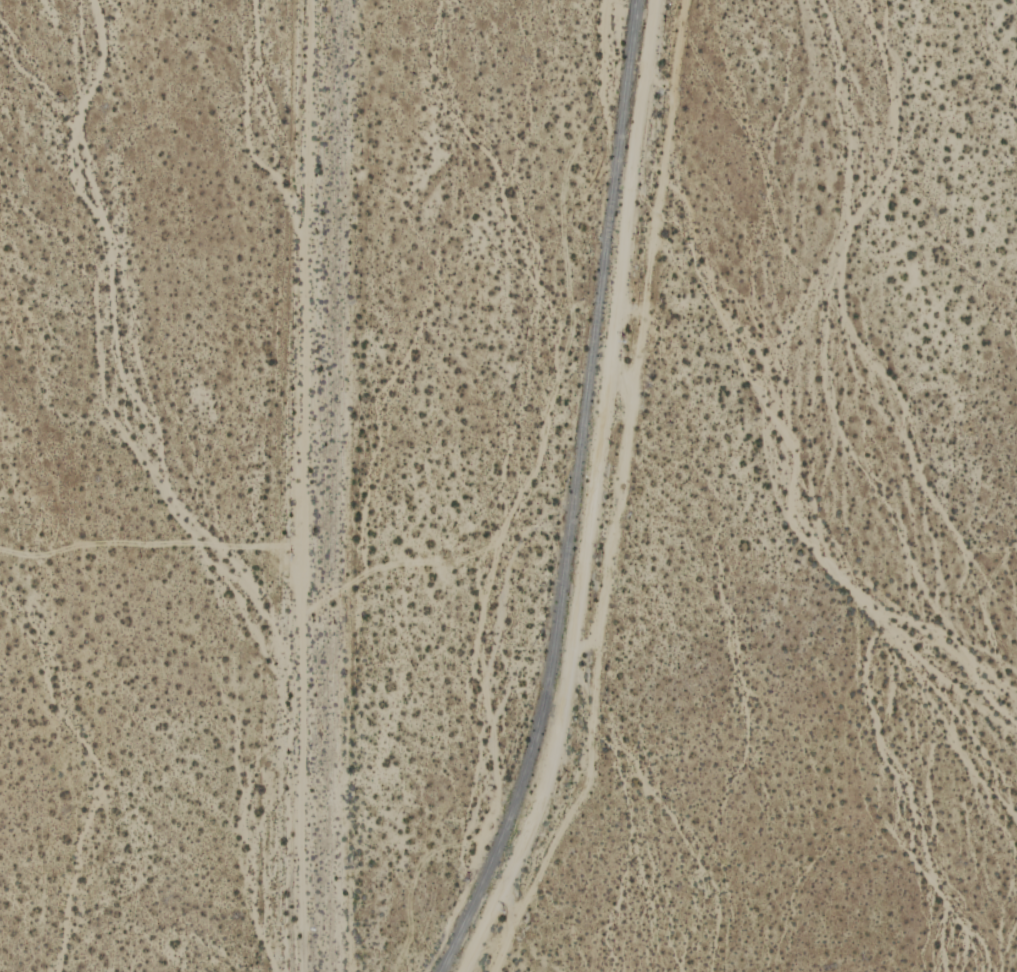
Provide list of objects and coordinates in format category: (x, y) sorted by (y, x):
railway: (576, 494)
road: (587, 495)

